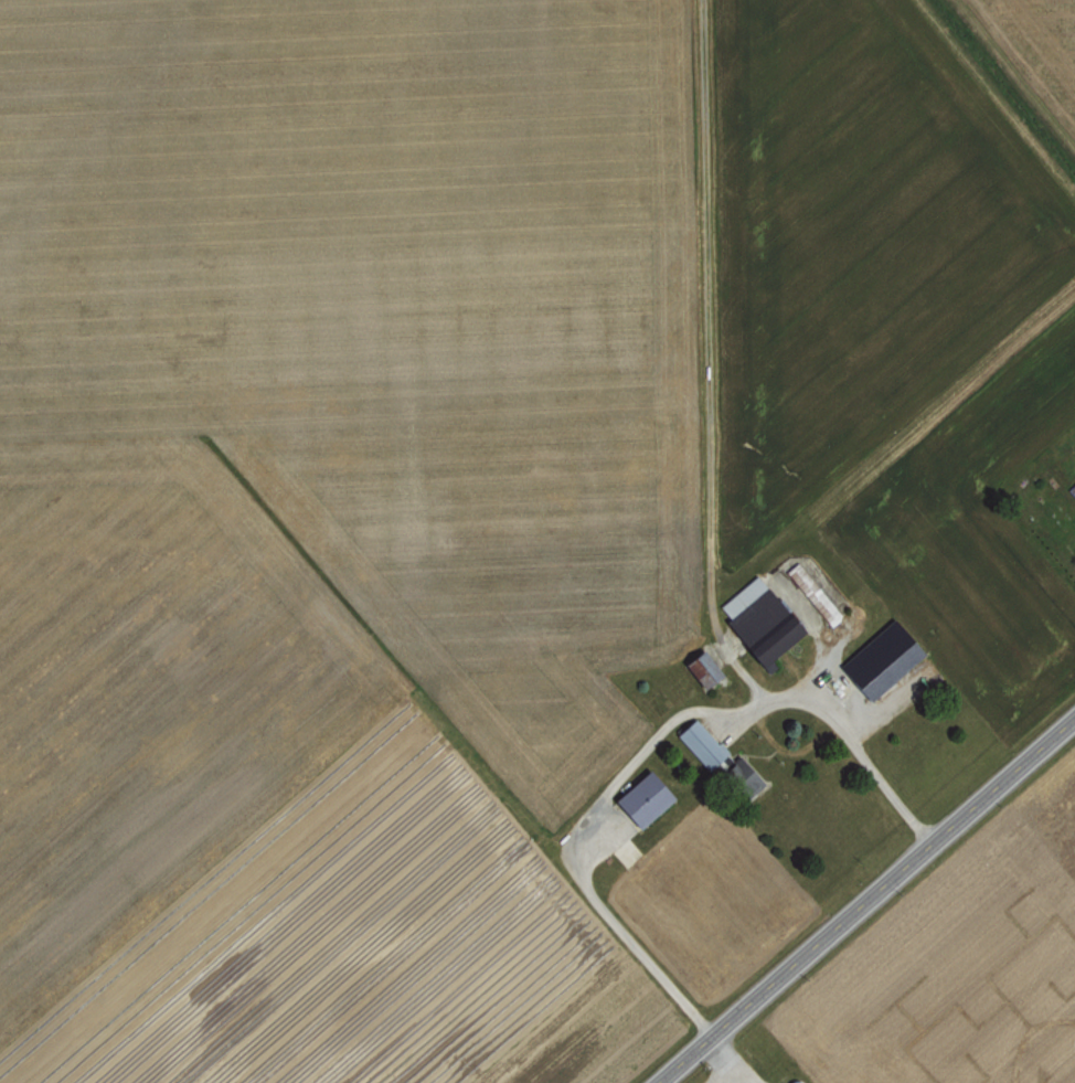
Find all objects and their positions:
building: (813, 593)
building: (758, 619)
building: (881, 659)
building: (702, 668)
road: (649, 743)
building: (700, 743)
building: (641, 799)
road: (866, 900)
road: (724, 1058)

